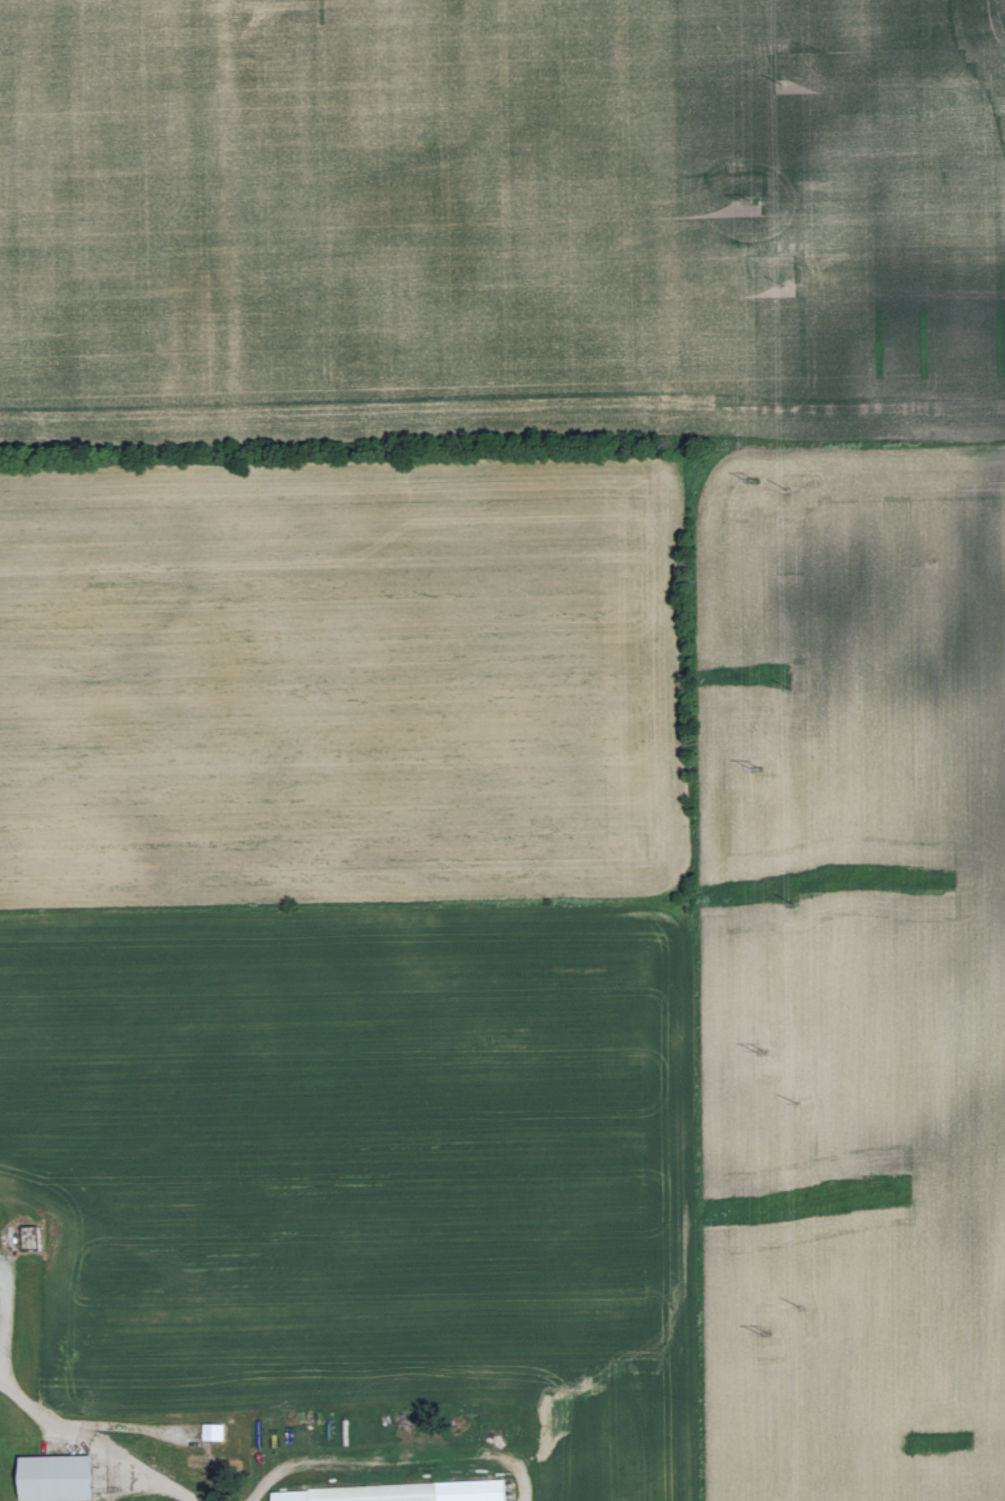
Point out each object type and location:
road: (3, 1316)
building: (215, 1431)
road: (92, 1442)
building: (63, 1477)
building: (456, 1491)

